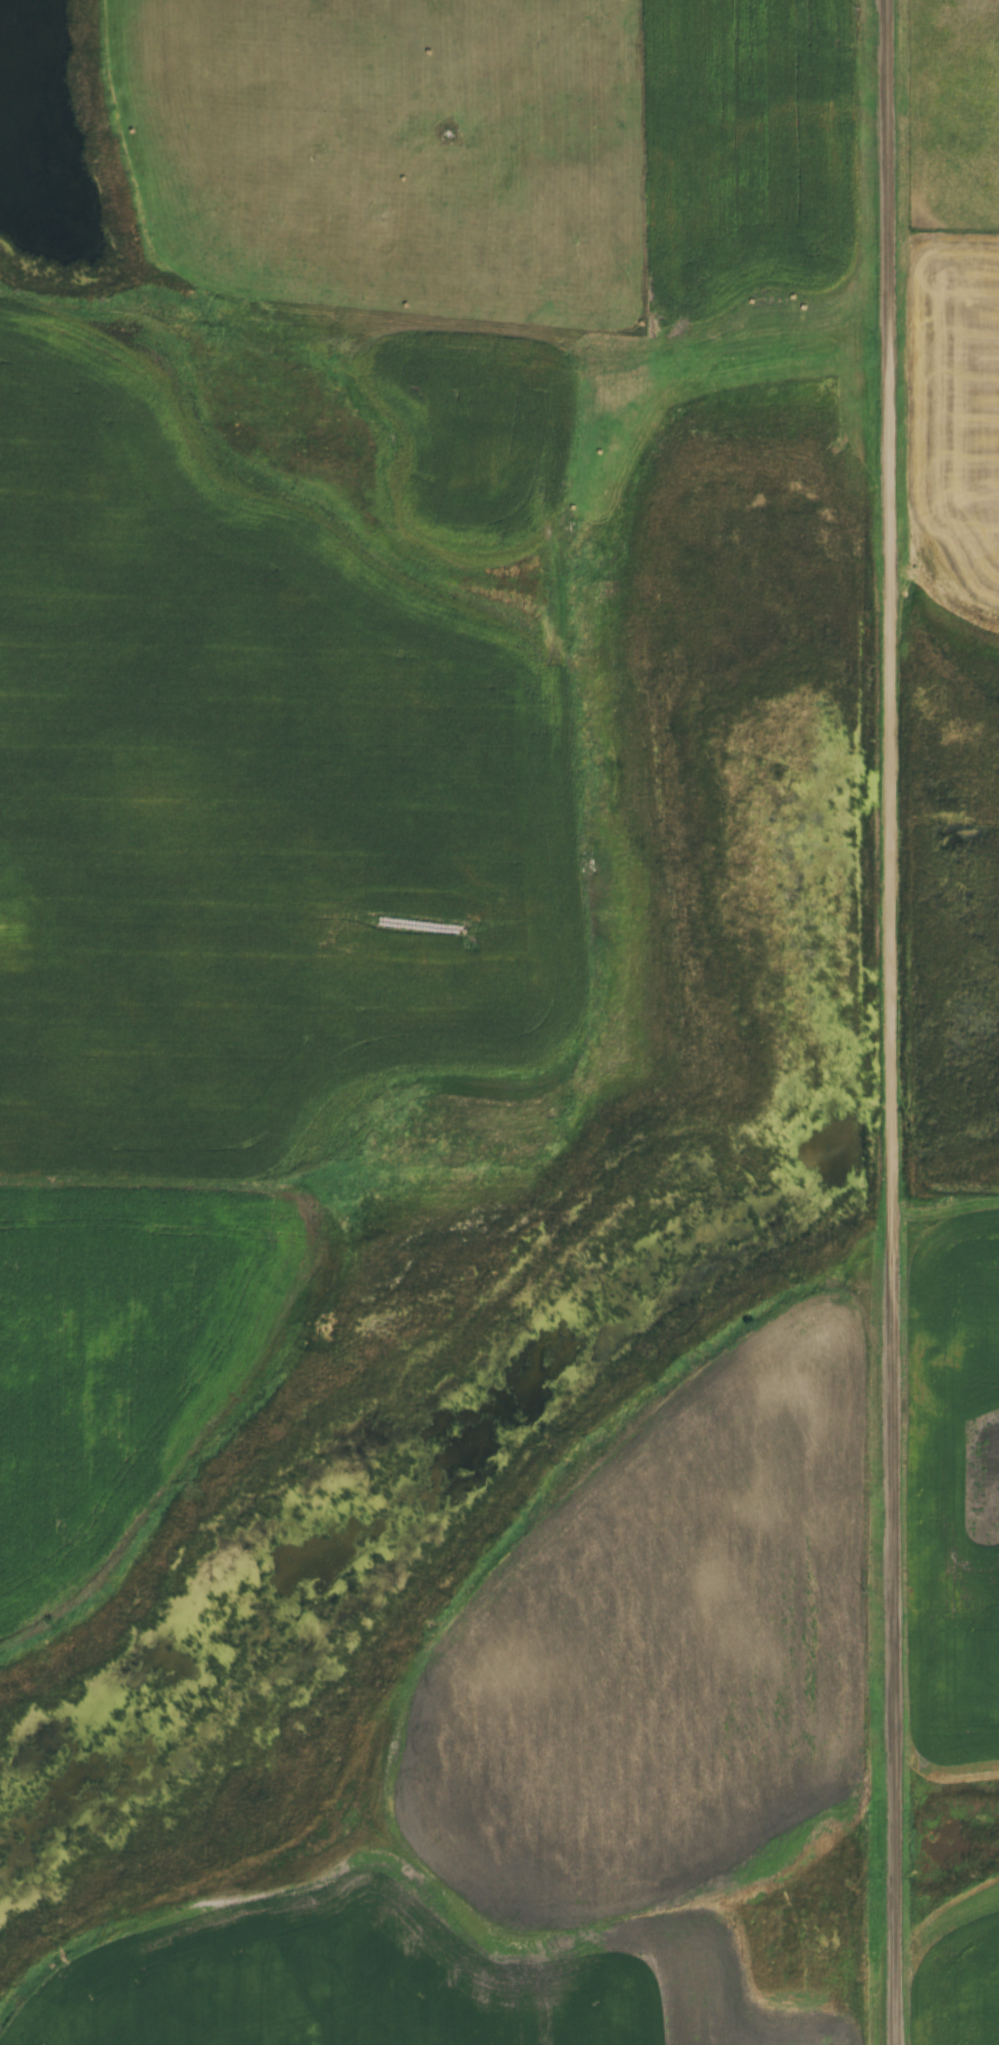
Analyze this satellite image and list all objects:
road: (887, 49)
building: (515, 191)
road: (891, 1071)

